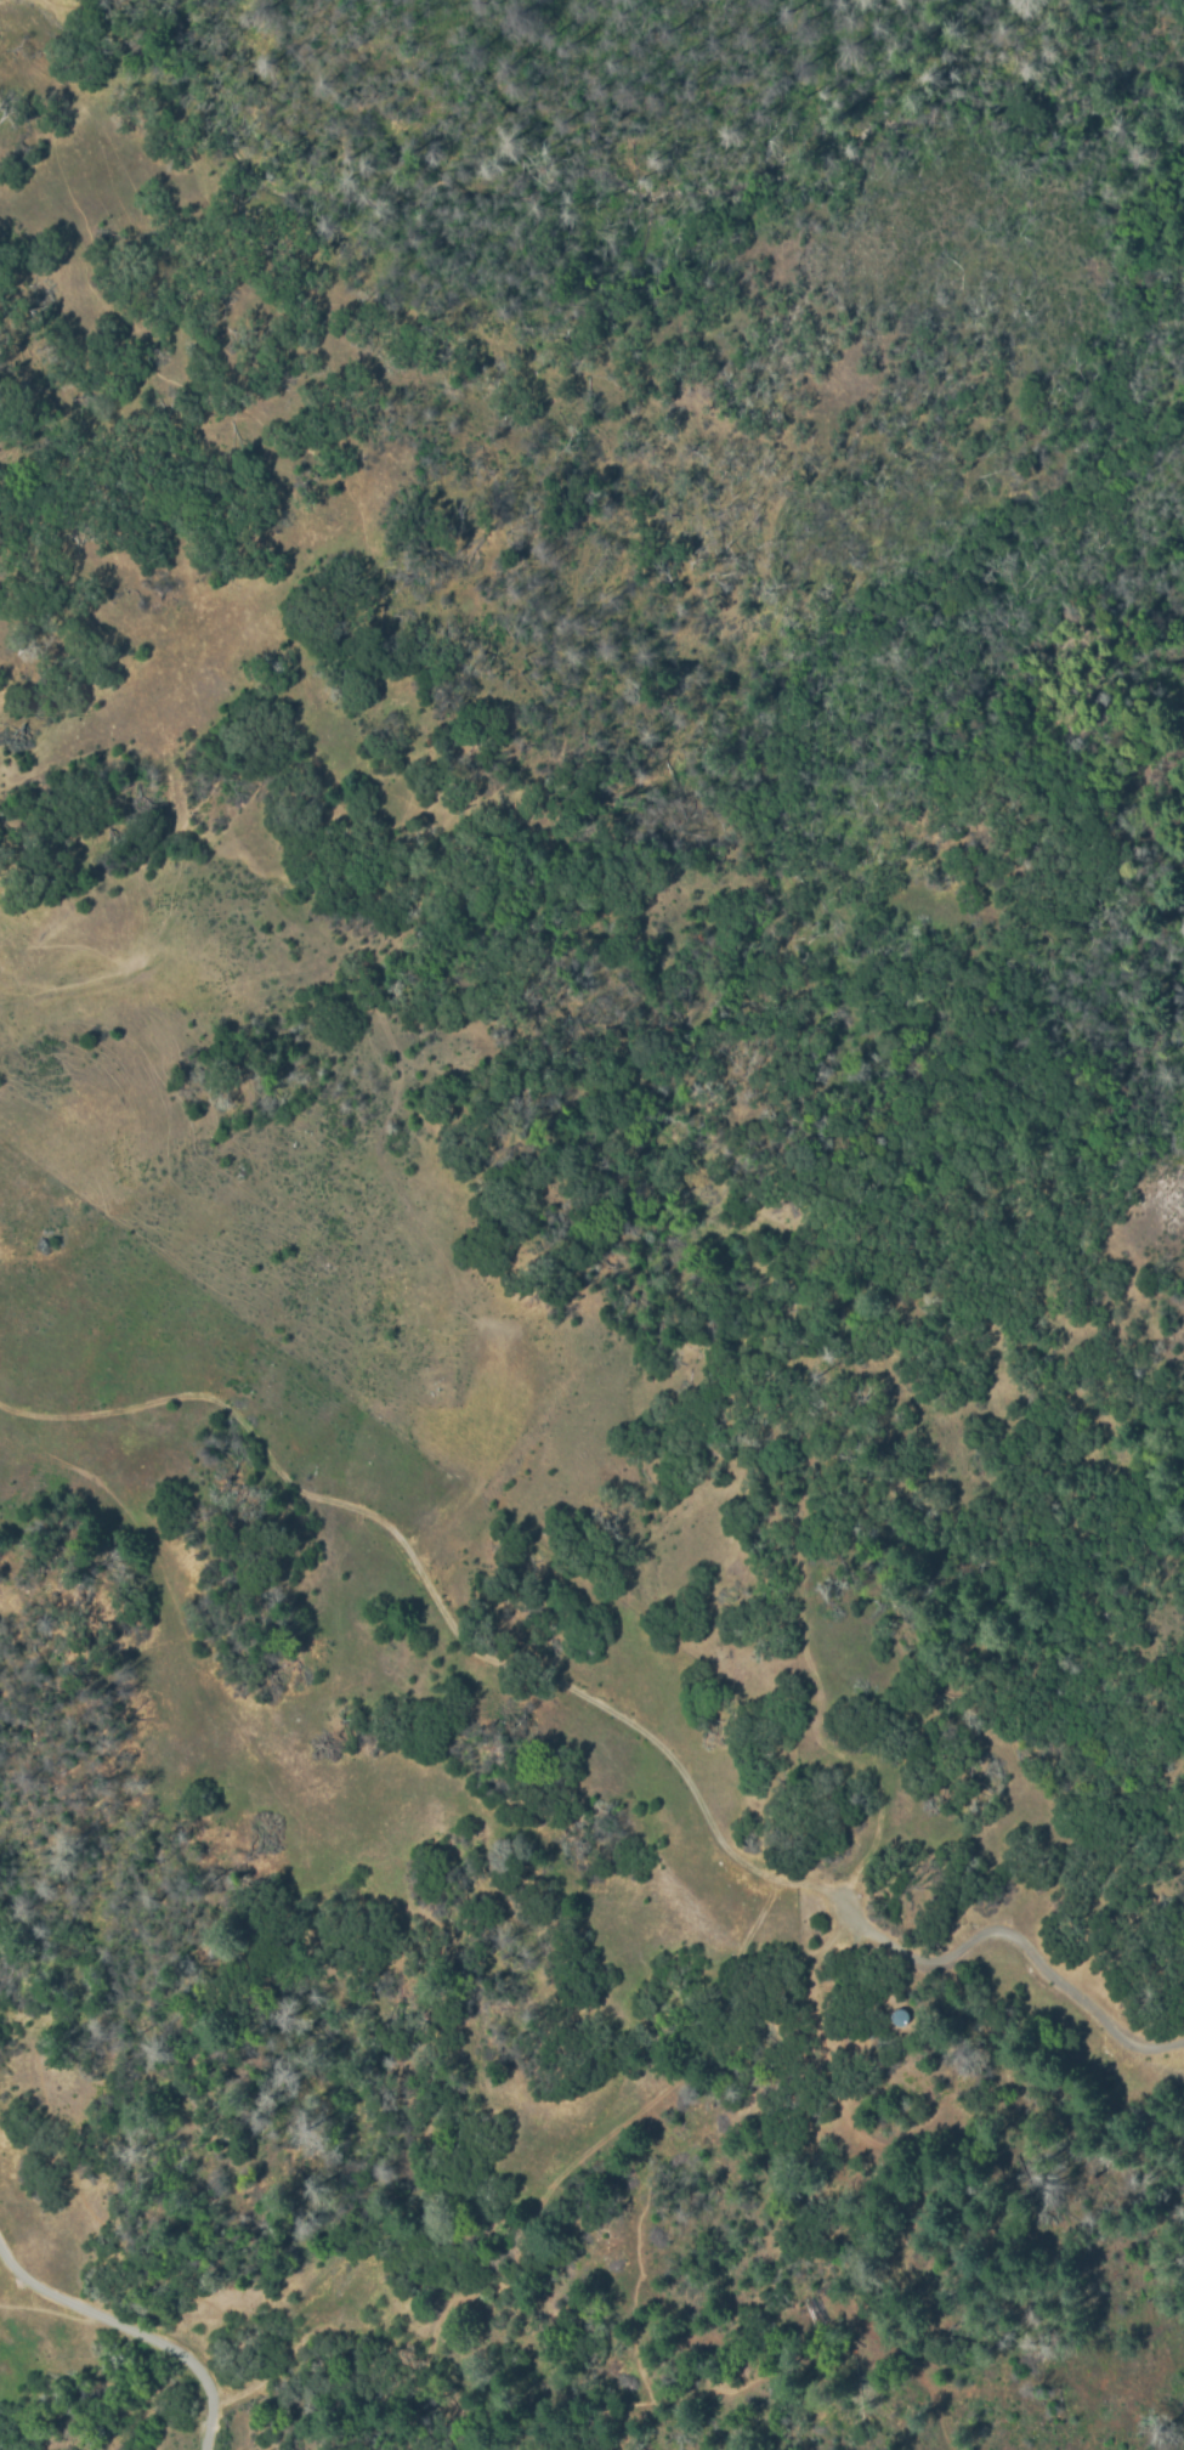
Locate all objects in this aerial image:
road: (1014, 1937)
building: (897, 2018)
road: (128, 2325)

